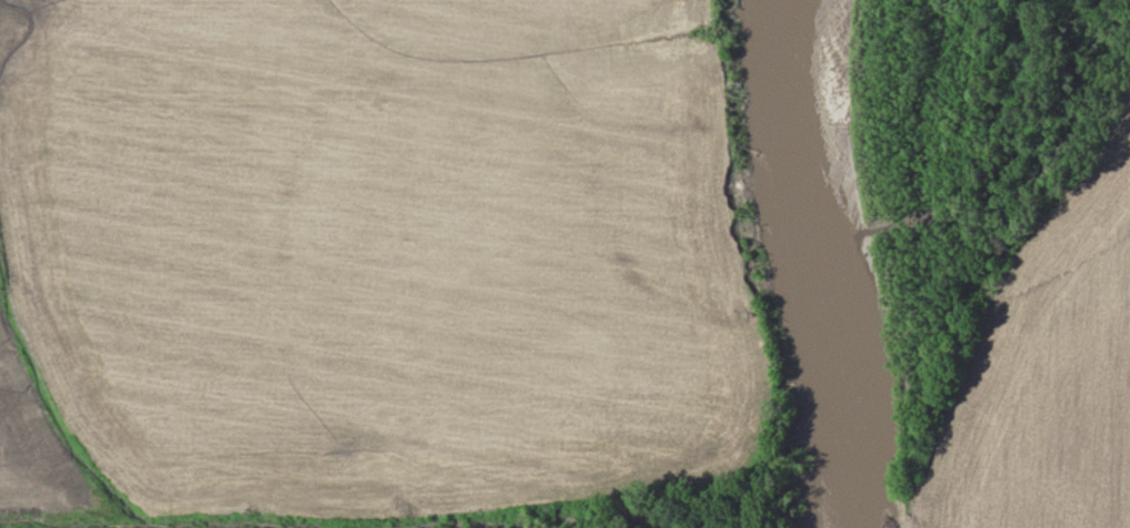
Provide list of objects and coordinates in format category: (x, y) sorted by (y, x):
river: (811, 266)

